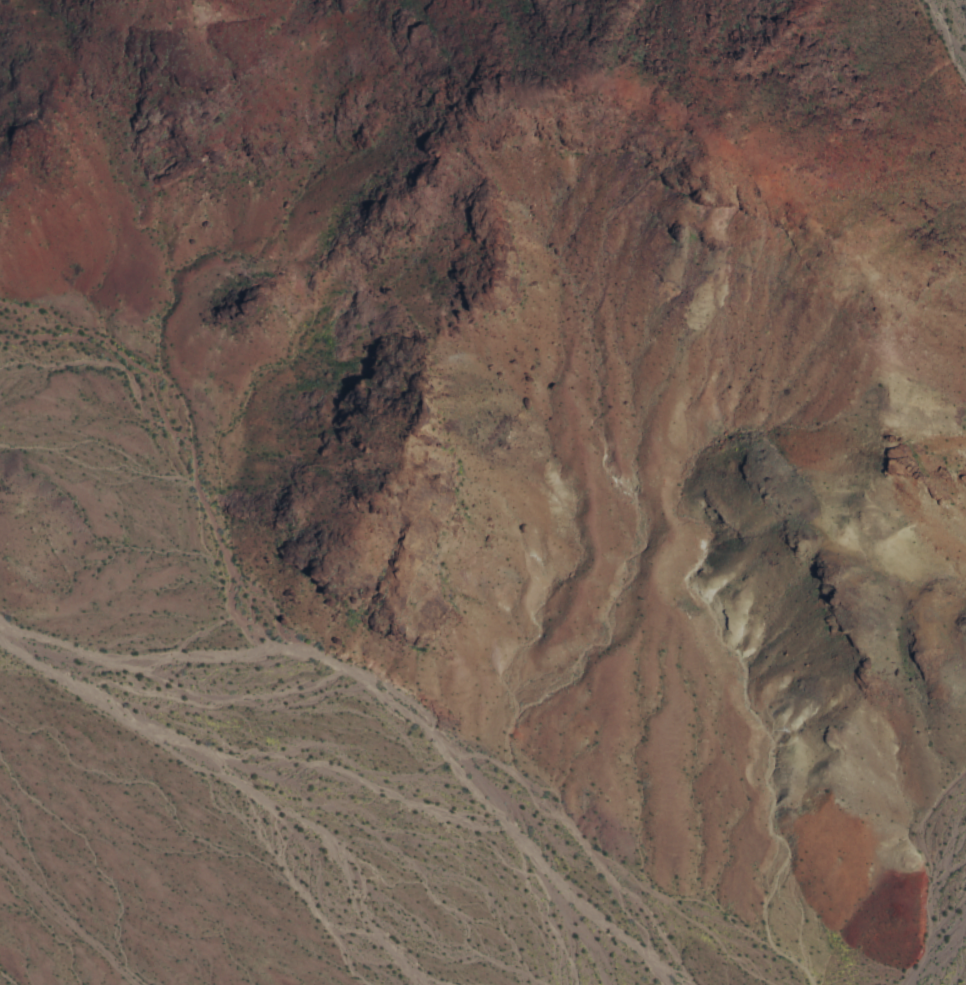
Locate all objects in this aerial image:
road: (10, 976)

